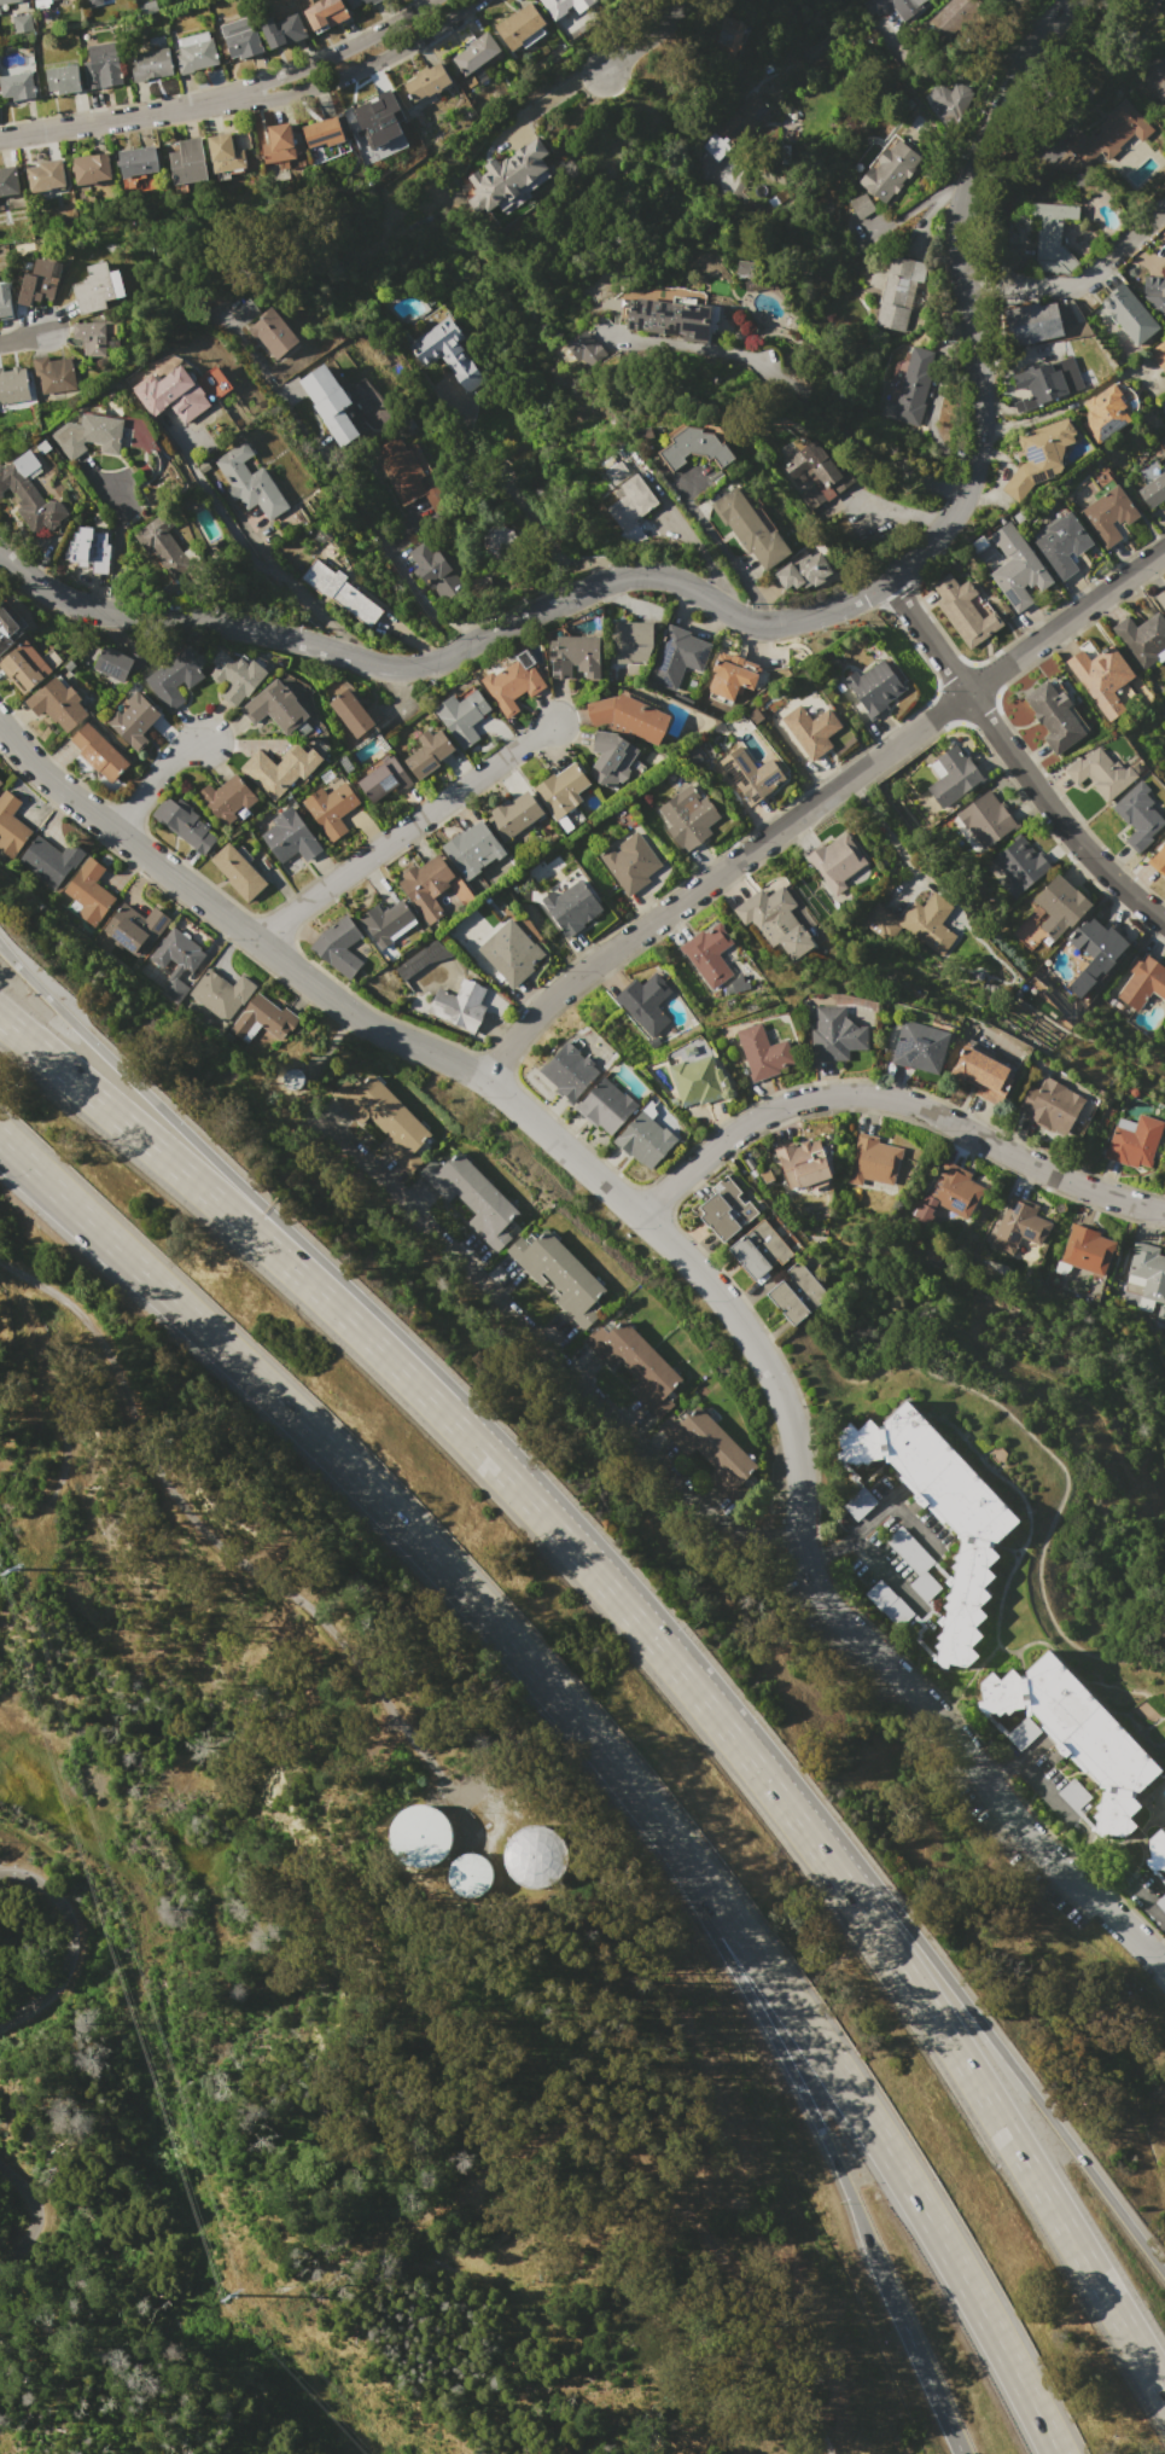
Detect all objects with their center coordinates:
building: (366, 0)
building: (8, 1)
building: (373, 1)
building: (39, 2)
building: (95, 2)
building: (351, 2)
building: (895, 5)
building: (561, 6)
building: (325, 14)
building: (955, 18)
building: (519, 25)
building: (282, 30)
building: (727, 34)
road: (642, 37)
building: (241, 39)
building: (196, 52)
building: (474, 53)
building: (101, 64)
building: (150, 64)
building: (1157, 77)
building: (63, 78)
road: (337, 78)
building: (426, 82)
building: (17, 86)
road: (223, 94)
road: (547, 97)
building: (949, 100)
building: (377, 107)
building: (744, 118)
building: (322, 132)
building: (1109, 133)
building: (278, 144)
building: (223, 155)
building: (136, 161)
building: (187, 161)
building: (92, 168)
building: (890, 169)
building: (502, 174)
building: (46, 175)
building: (8, 180)
road: (919, 200)
building: (861, 205)
building: (1050, 237)
building: (1160, 279)
building: (40, 280)
road: (1074, 285)
building: (93, 289)
building: (898, 293)
building: (5, 300)
building: (1128, 315)
building: (1031, 322)
building: (269, 330)
building: (634, 332)
building: (92, 335)
road: (22, 338)
building: (442, 349)
building: (1158, 355)
building: (49, 373)
building: (915, 380)
building: (1037, 383)
building: (13, 385)
building: (320, 390)
building: (176, 391)
building: (1103, 414)
road: (834, 423)
building: (342, 430)
building: (89, 435)
building: (641, 435)
building: (1163, 441)
building: (693, 448)
building: (1039, 455)
building: (398, 470)
building: (616, 471)
building: (816, 473)
building: (249, 484)
building: (1153, 489)
building: (29, 500)
road: (355, 502)
building: (631, 508)
building: (1108, 514)
road: (229, 525)
road: (534, 527)
building: (748, 528)
building: (496, 541)
building: (1061, 542)
building: (162, 546)
building: (88, 548)
building: (425, 565)
building: (1018, 569)
building: (804, 570)
building: (477, 585)
road: (303, 591)
building: (339, 594)
building: (1161, 598)
building: (963, 610)
road: (744, 620)
building: (6, 630)
building: (1141, 638)
building: (628, 641)
building: (676, 655)
building: (571, 657)
building: (116, 661)
building: (22, 667)
building: (1096, 670)
building: (730, 674)
building: (234, 675)
building: (171, 678)
building: (511, 684)
building: (874, 686)
building: (54, 704)
building: (273, 706)
building: (349, 713)
building: (460, 716)
building: (625, 716)
building: (1052, 716)
building: (132, 721)
building: (809, 729)
building: (95, 752)
building: (426, 752)
building: (608, 758)
road: (1014, 760)
building: (278, 769)
building: (1099, 774)
building: (751, 775)
building: (951, 777)
road: (153, 779)
building: (0, 781)
building: (381, 783)
building: (560, 789)
building: (225, 796)
road: (812, 803)
building: (327, 809)
building: (512, 814)
building: (1137, 815)
building: (686, 818)
building: (984, 820)
building: (182, 825)
building: (8, 826)
road: (403, 831)
road: (886, 831)
building: (287, 837)
building: (471, 849)
building: (1158, 859)
building: (46, 861)
building: (629, 862)
building: (834, 862)
building: (1017, 865)
building: (235, 873)
building: (424, 886)
building: (86, 892)
building: (570, 906)
building: (1055, 906)
building: (767, 913)
building: (385, 923)
building: (927, 923)
building: (133, 929)
building: (336, 947)
building: (1095, 947)
building: (706, 954)
building: (509, 956)
building: (419, 959)
building: (174, 961)
building: (1141, 981)
building: (217, 993)
building: (642, 1004)
building: (456, 1006)
building: (257, 1018)
building: (835, 1033)
building: (916, 1046)
building: (762, 1051)
building: (566, 1072)
building: (978, 1075)
building: (693, 1077)
road: (893, 1099)
building: (602, 1107)
building: (1048, 1109)
building: (385, 1122)
road: (193, 1140)
building: (641, 1141)
building: (1130, 1147)
building: (799, 1162)
building: (873, 1162)
road: (190, 1179)
building: (953, 1190)
road: (57, 1192)
road: (57, 1199)
building: (471, 1199)
building: (721, 1211)
building: (1020, 1229)
building: (1085, 1248)
building: (757, 1254)
road: (691, 1266)
building: (1146, 1269)
building: (557, 1278)
building: (793, 1295)
road: (547, 1351)
building: (635, 1367)
road: (54, 1406)
building: (712, 1454)
road: (520, 1491)
building: (857, 1504)
road: (383, 1505)
road: (876, 1512)
building: (939, 1519)
road: (913, 1525)
road: (214, 1536)
road: (828, 1551)
building: (911, 1563)
power tower: (16, 1568)
road: (887, 1574)
building: (886, 1603)
building: (1073, 1732)
building: (1020, 1733)
road: (998, 1774)
building: (1073, 1796)
building: (419, 1837)
storage tank: (419, 1837)
road: (1089, 1843)
building: (1158, 1849)
building: (535, 1856)
storage tank: (535, 1856)
building: (467, 1874)
storage tank: (467, 1874)
building: (1163, 1901)
road: (925, 1946)
road: (70, 1948)
road: (1159, 1952)
road: (927, 2008)
road: (858, 2109)
road: (814, 2111)
road: (612, 2132)
road: (24, 2220)
power tower: (233, 2295)

